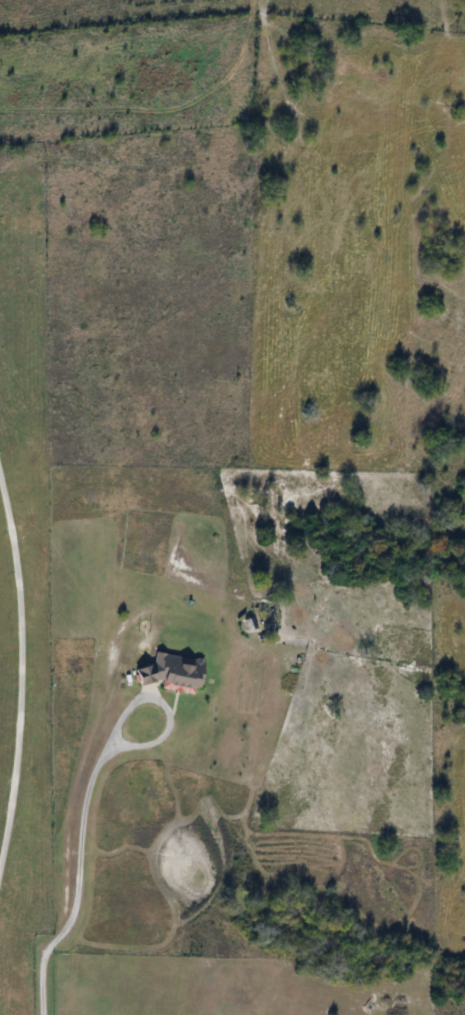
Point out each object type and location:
road: (20, 669)
road: (167, 707)
road: (80, 882)

